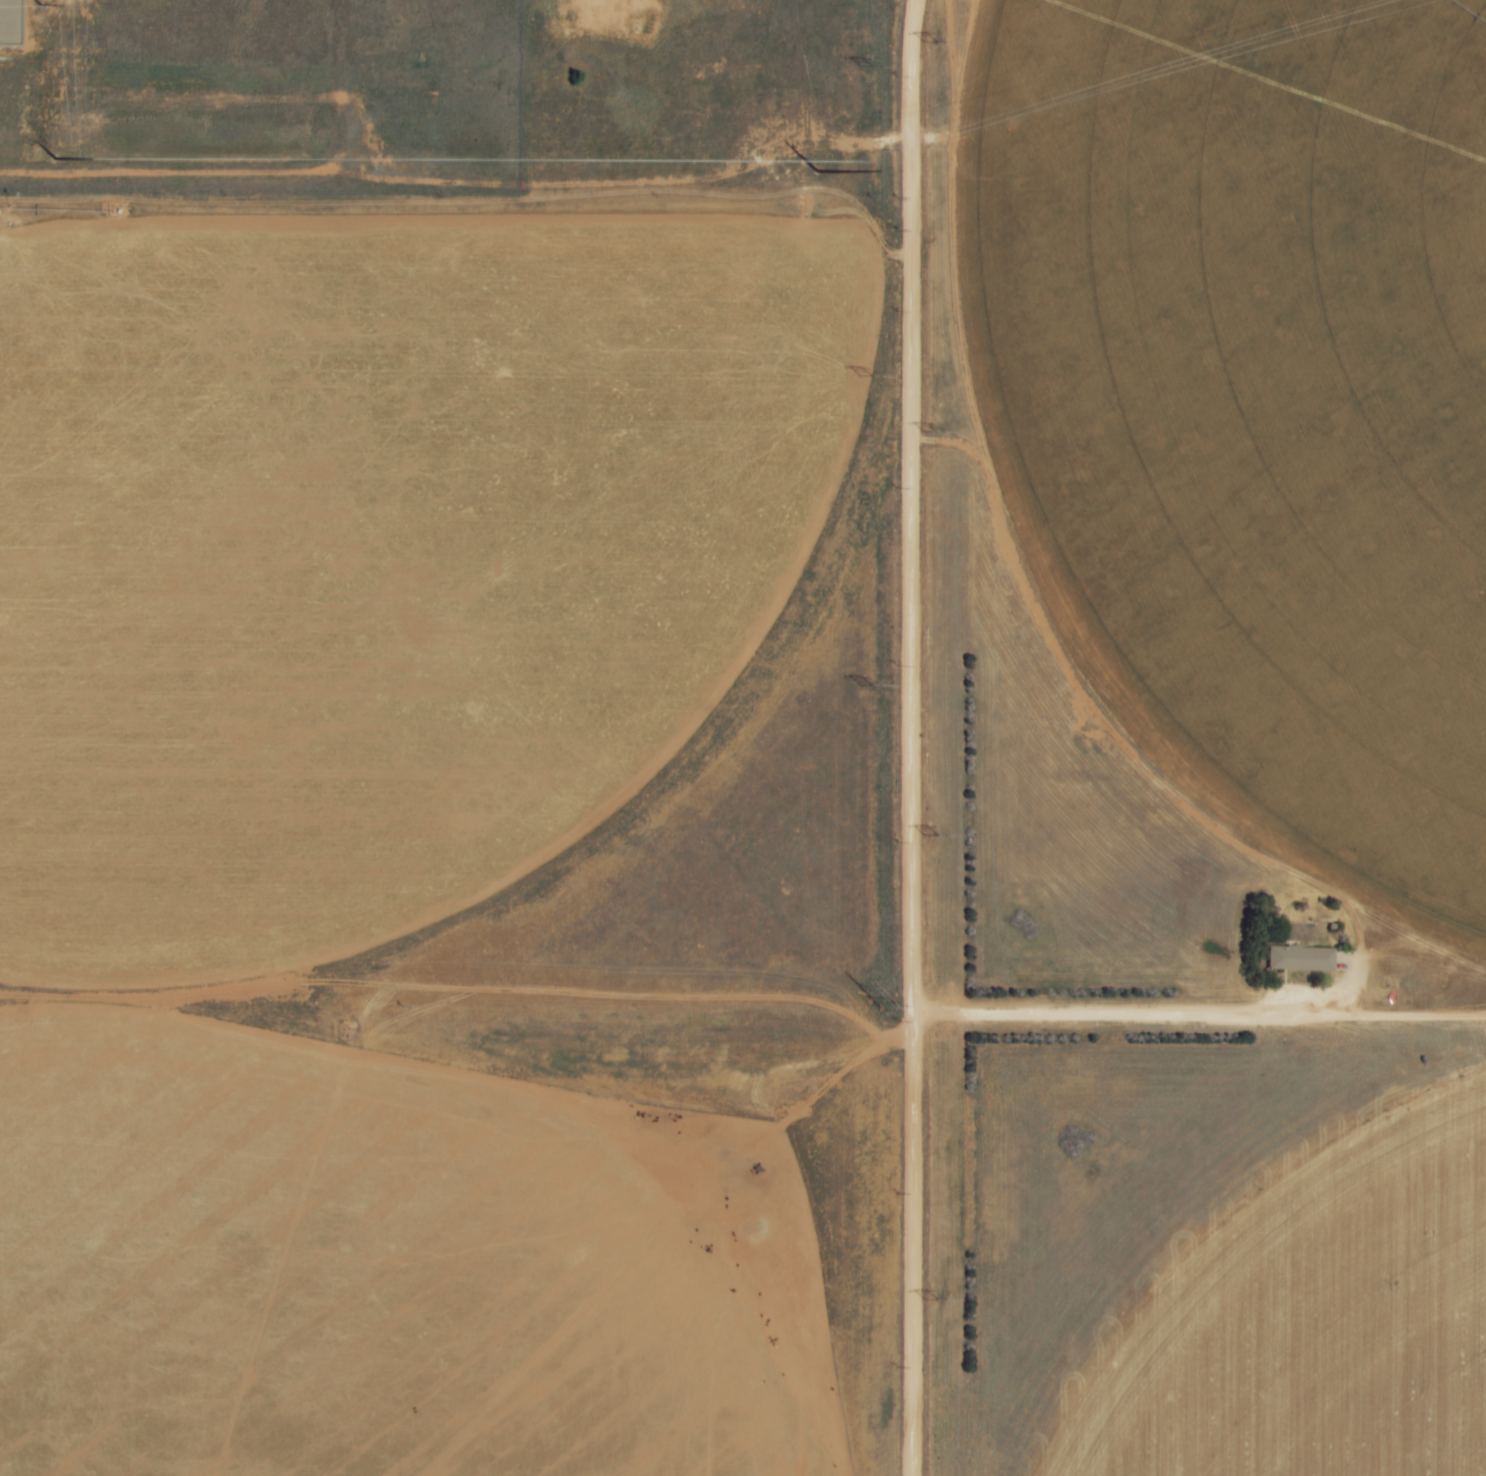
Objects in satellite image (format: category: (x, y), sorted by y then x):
power substation: (11, 20)
power tower: (930, 43)
power tower: (865, 66)
power tower: (53, 164)
power tower: (818, 172)
power tower: (866, 377)
power tower: (930, 432)
power tower: (866, 684)
road: (912, 738)
power tower: (931, 835)
building: (1299, 959)
power tower: (871, 993)
road: (1205, 1017)
power tower: (930, 1298)

